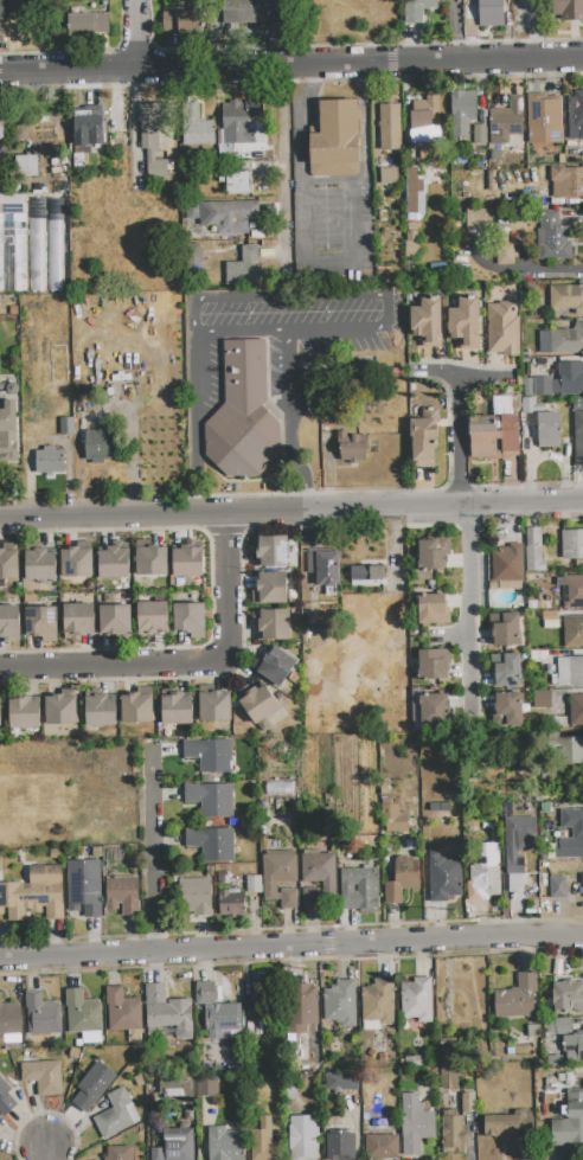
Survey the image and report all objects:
building: (1, 9)
building: (417, 9)
building: (563, 9)
building: (250, 12)
building: (492, 12)
building: (180, 21)
building: (88, 24)
road: (212, 33)
road: (134, 34)
road: (291, 66)
building: (463, 104)
building: (575, 114)
road: (302, 115)
road: (363, 116)
building: (506, 120)
building: (544, 120)
building: (238, 123)
building: (194, 126)
building: (421, 126)
building: (390, 127)
building: (2, 128)
building: (87, 129)
building: (480, 134)
building: (337, 137)
building: (152, 140)
building: (116, 145)
building: (26, 166)
road: (281, 168)
building: (389, 175)
building: (566, 181)
building: (236, 182)
building: (414, 194)
building: (13, 204)
building: (223, 216)
building: (480, 219)
parking lot: (332, 230)
building: (552, 238)
building: (410, 239)
building: (36, 244)
building: (53, 244)
building: (192, 252)
building: (505, 254)
building: (244, 267)
road: (331, 269)
road: (517, 270)
building: (566, 297)
road: (305, 299)
building: (427, 323)
building: (465, 323)
building: (505, 325)
road: (276, 328)
parking lot: (286, 338)
building: (568, 340)
road: (288, 371)
road: (459, 374)
building: (571, 378)
road: (197, 379)
building: (543, 386)
building: (577, 404)
building: (531, 405)
building: (242, 414)
building: (66, 427)
building: (8, 431)
building: (549, 431)
building: (493, 436)
building: (578, 438)
road: (457, 441)
building: (97, 446)
building: (351, 447)
building: (424, 447)
building: (50, 461)
road: (301, 462)
road: (199, 470)
road: (291, 512)
building: (572, 544)
building: (271, 551)
building: (534, 551)
building: (434, 552)
building: (152, 560)
building: (187, 562)
building: (77, 563)
building: (113, 563)
building: (8, 564)
building: (40, 564)
building: (507, 564)
building: (323, 569)
building: (366, 575)
building: (270, 589)
building: (572, 591)
road: (466, 608)
building: (433, 610)
building: (153, 617)
building: (190, 617)
building: (78, 619)
building: (115, 620)
building: (8, 622)
building: (41, 623)
building: (274, 624)
building: (506, 632)
building: (574, 632)
road: (449, 636)
road: (181, 662)
building: (434, 665)
building: (276, 666)
building: (508, 672)
building: (570, 672)
building: (542, 699)
building: (258, 704)
building: (214, 706)
building: (137, 707)
building: (510, 707)
building: (177, 709)
building: (433, 709)
building: (576, 710)
building: (62, 711)
building: (101, 711)
building: (0, 713)
building: (24, 713)
building: (569, 750)
building: (209, 754)
building: (211, 799)
building: (392, 820)
building: (572, 822)
building: (518, 841)
building: (211, 844)
road: (153, 848)
building: (485, 876)
building: (444, 877)
building: (229, 878)
building: (280, 878)
building: (402, 879)
building: (582, 879)
building: (319, 880)
building: (255, 884)
building: (84, 887)
building: (558, 887)
building: (359, 890)
building: (33, 895)
building: (123, 895)
building: (196, 896)
building: (231, 902)
building: (256, 915)
road: (291, 946)
building: (568, 994)
building: (517, 996)
building: (417, 999)
building: (340, 1005)
building: (378, 1006)
building: (300, 1007)
building: (217, 1010)
building: (122, 1011)
building: (168, 1012)
building: (82, 1013)
building: (41, 1014)
building: (11, 1019)
building: (560, 1026)
building: (574, 1046)
building: (449, 1063)
building: (43, 1076)
building: (568, 1078)
building: (339, 1083)
building: (210, 1085)
building: (92, 1087)
building: (6, 1097)
building: (115, 1113)
building: (569, 1123)
building: (415, 1124)
building: (507, 1124)
building: (453, 1135)
building: (303, 1137)
building: (262, 1140)
building: (228, 1141)
building: (175, 1145)
building: (339, 1147)
building: (380, 1147)
road: (51, 1151)
building: (117, 1153)

